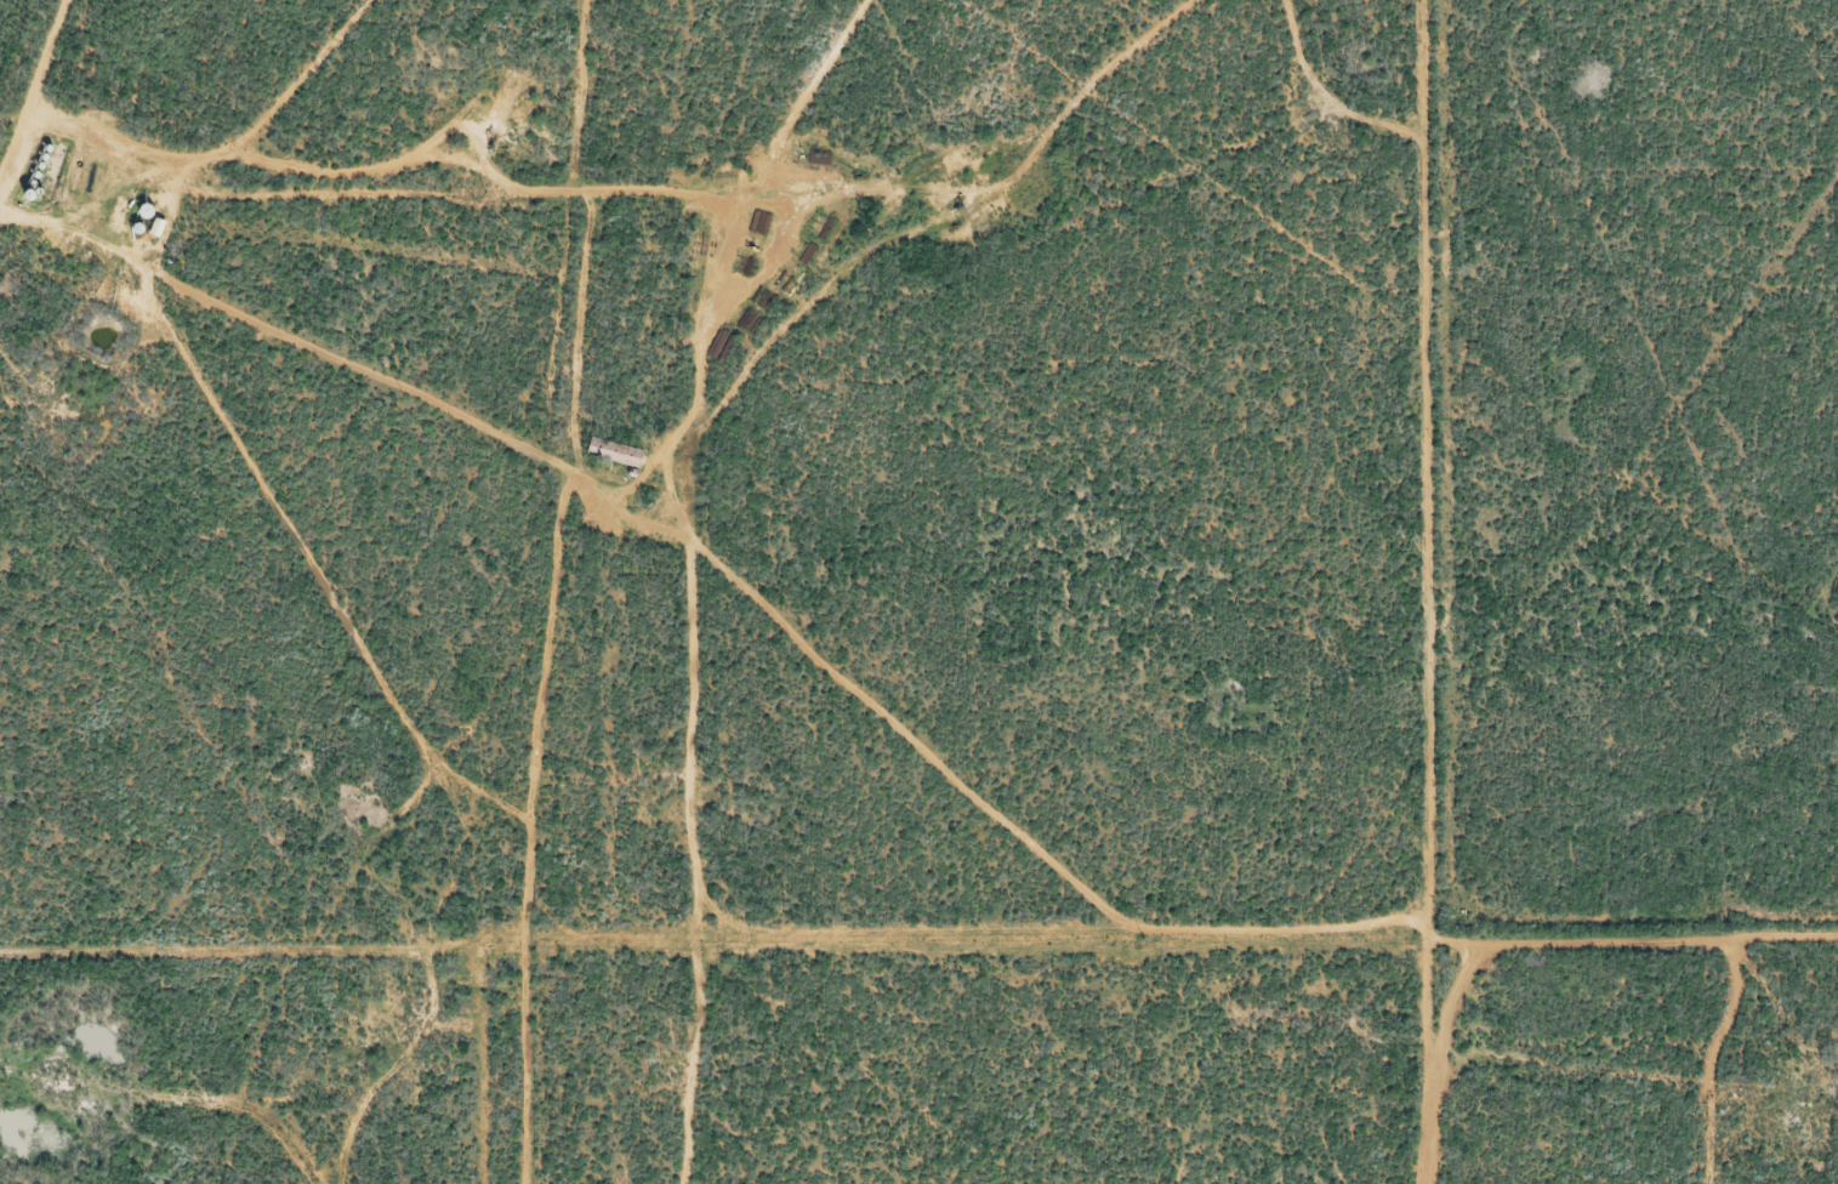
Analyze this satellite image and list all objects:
road: (86, 180)
road: (713, 571)

